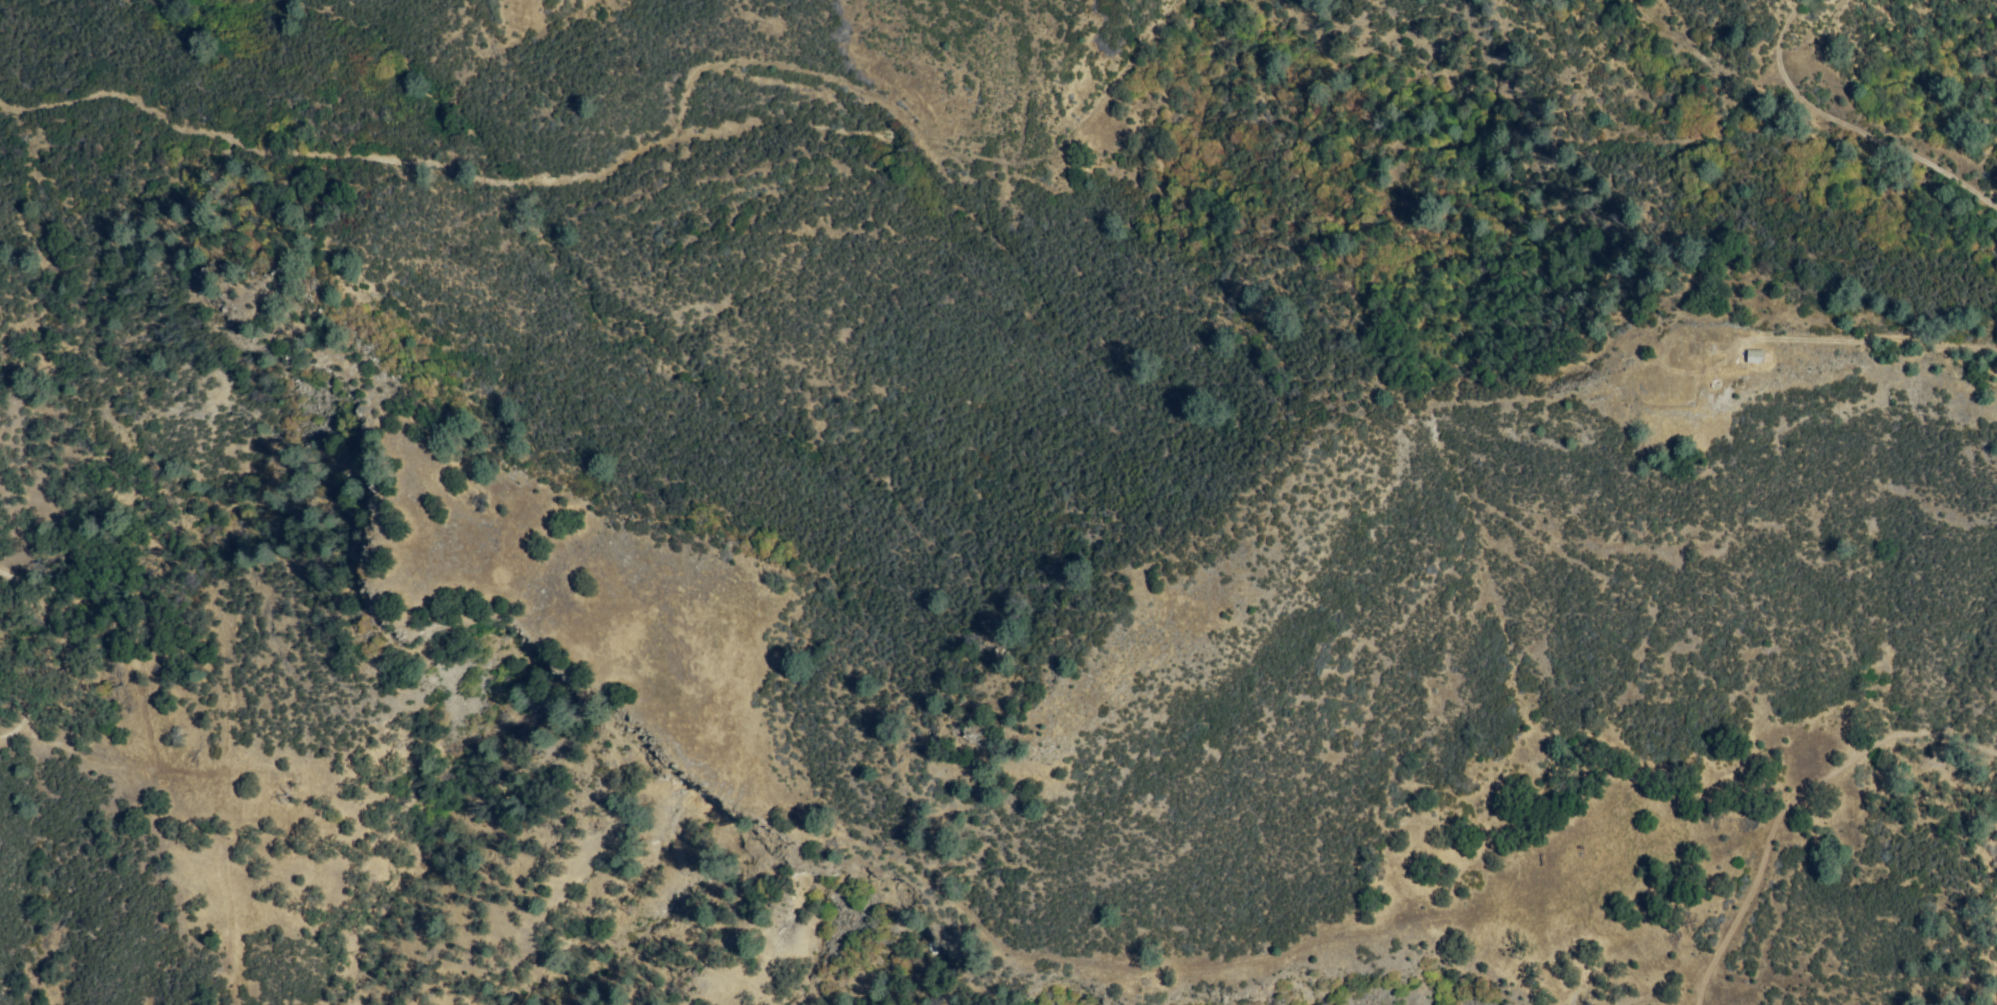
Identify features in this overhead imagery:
road: (1744, 78)
road: (1100, 93)
road: (618, 162)
building: (1757, 357)
road: (64, 655)

